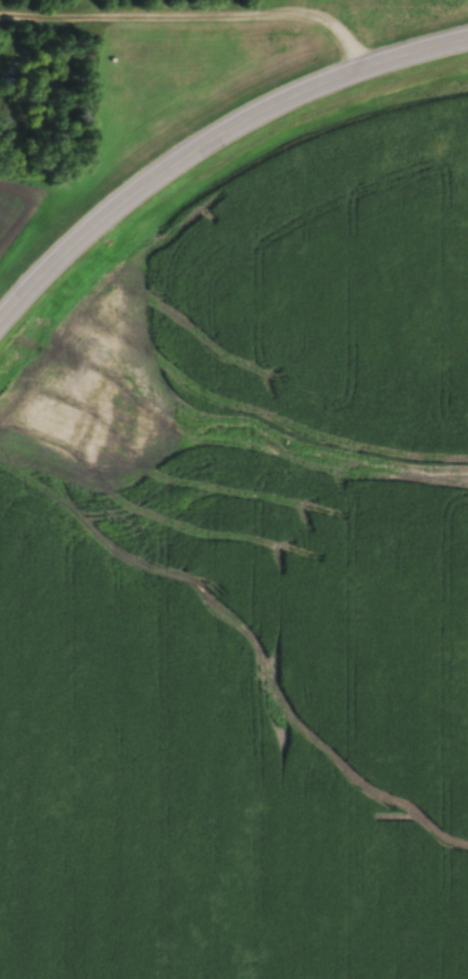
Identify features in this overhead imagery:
road: (379, 72)
road: (134, 205)

